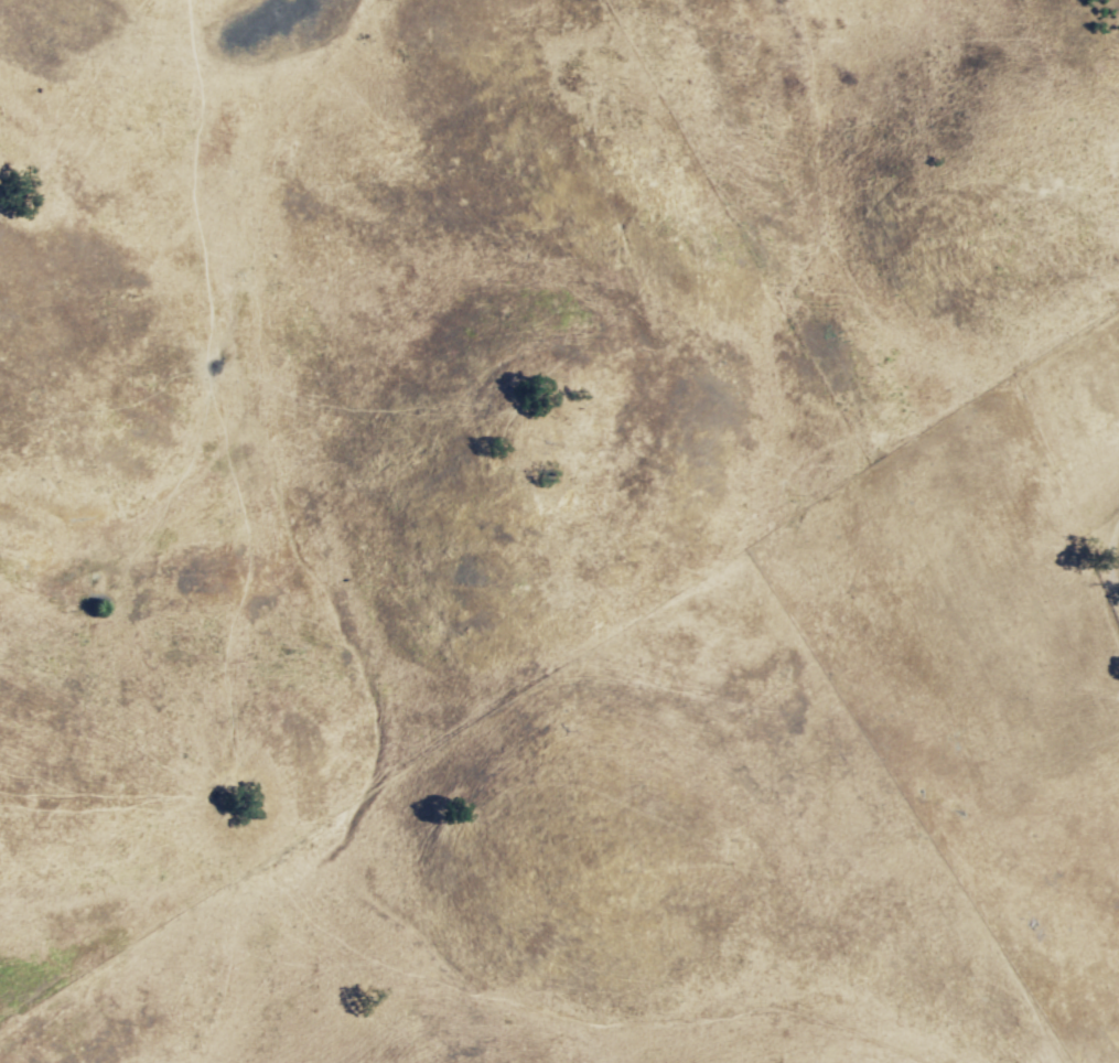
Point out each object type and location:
road: (1102, 541)

